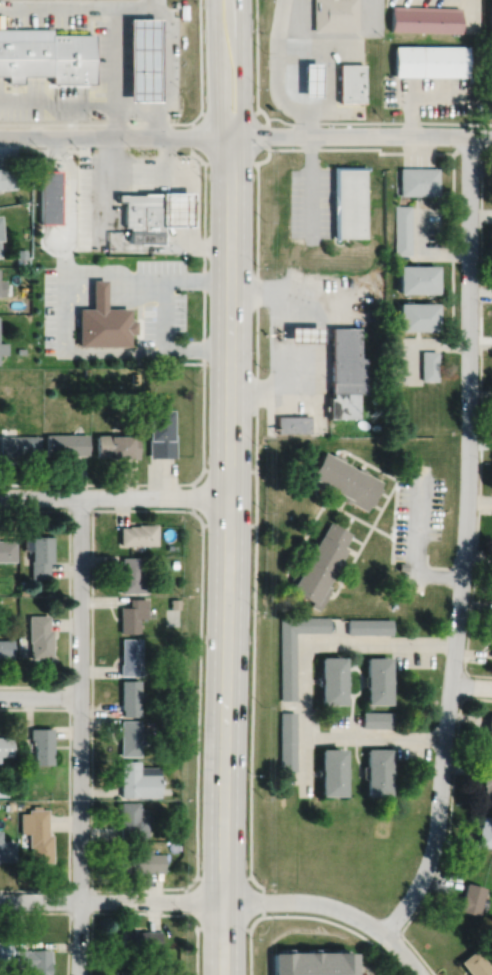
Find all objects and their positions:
road: (80, 6)
building: (333, 14)
building: (423, 18)
road: (230, 38)
building: (491, 41)
road: (298, 50)
building: (45, 54)
road: (115, 56)
building: (141, 57)
building: (429, 60)
road: (215, 68)
road: (241, 68)
road: (256, 75)
building: (308, 78)
road: (308, 79)
building: (350, 82)
road: (418, 92)
parking lot: (429, 93)
road: (136, 106)
road: (308, 106)
road: (229, 112)
road: (303, 114)
road: (115, 121)
road: (158, 121)
road: (378, 121)
road: (157, 123)
road: (361, 135)
road: (115, 136)
road: (191, 144)
road: (38, 149)
building: (92, 149)
road: (49, 152)
road: (167, 159)
parking lot: (418, 159)
building: (7, 177)
building: (418, 181)
road: (104, 186)
parking lot: (106, 192)
building: (48, 195)
road: (47, 196)
building: (347, 201)
road: (418, 202)
parking lot: (310, 203)
building: (175, 209)
road: (71, 211)
road: (195, 211)
building: (141, 215)
parking lot: (430, 225)
building: (402, 229)
building: (0, 240)
road: (180, 245)
road: (452, 250)
building: (19, 253)
road: (420, 253)
road: (61, 259)
road: (417, 259)
road: (203, 267)
road: (89, 270)
road: (163, 278)
building: (417, 279)
building: (0, 286)
road: (291, 286)
building: (1, 287)
road: (97, 296)
parking lot: (161, 298)
parking lot: (57, 309)
road: (255, 314)
building: (417, 317)
building: (102, 321)
building: (303, 335)
road: (312, 335)
road: (273, 339)
road: (420, 343)
road: (165, 345)
building: (2, 348)
building: (20, 350)
road: (72, 351)
parking lot: (405, 359)
building: (344, 361)
building: (428, 365)
building: (86, 371)
building: (135, 377)
road: (293, 391)
building: (340, 406)
building: (292, 424)
road: (480, 425)
building: (160, 435)
building: (64, 445)
building: (19, 446)
building: (116, 446)
road: (342, 452)
road: (414, 452)
road: (364, 463)
road: (255, 469)
building: (343, 478)
road: (320, 492)
road: (383, 492)
road: (114, 496)
road: (341, 503)
road: (376, 505)
road: (380, 508)
parking lot: (417, 511)
road: (349, 513)
road: (348, 521)
building: (139, 532)
road: (303, 537)
road: (355, 538)
road: (465, 541)
road: (305, 542)
road: (415, 543)
building: (169, 545)
building: (7, 548)
road: (350, 550)
building: (41, 554)
road: (227, 555)
building: (174, 562)
building: (320, 563)
road: (345, 564)
building: (402, 564)
road: (291, 568)
road: (342, 569)
building: (132, 574)
building: (22, 582)
building: (23, 590)
road: (329, 595)
road: (68, 597)
building: (174, 602)
building: (132, 613)
building: (369, 624)
building: (40, 635)
road: (331, 641)
building: (294, 646)
building: (6, 647)
road: (356, 654)
building: (130, 655)
parking lot: (413, 657)
building: (332, 678)
building: (379, 678)
road: (361, 683)
building: (178, 684)
road: (462, 684)
road: (471, 684)
road: (40, 696)
road: (69, 696)
building: (130, 696)
road: (477, 696)
building: (378, 718)
parking lot: (345, 722)
building: (489, 729)
road: (250, 731)
road: (80, 735)
road: (344, 736)
building: (131, 737)
building: (287, 740)
building: (6, 744)
building: (42, 744)
parking lot: (413, 749)
building: (177, 755)
building: (21, 756)
building: (331, 770)
building: (379, 771)
building: (139, 779)
building: (487, 780)
building: (4, 788)
road: (69, 798)
building: (19, 802)
building: (9, 804)
building: (132, 820)
building: (173, 829)
building: (484, 831)
building: (38, 833)
building: (124, 845)
road: (444, 847)
building: (7, 849)
building: (142, 861)
road: (196, 873)
road: (223, 876)
building: (470, 898)
road: (111, 899)
road: (184, 899)
road: (334, 906)
road: (35, 911)
road: (160, 913)
road: (341, 925)
building: (140, 940)
road: (68, 942)
building: (5, 949)
road: (249, 951)
building: (34, 960)
building: (314, 962)
building: (475, 964)
building: (127, 972)
parking lot: (362, 972)
parking lot: (381, 973)

